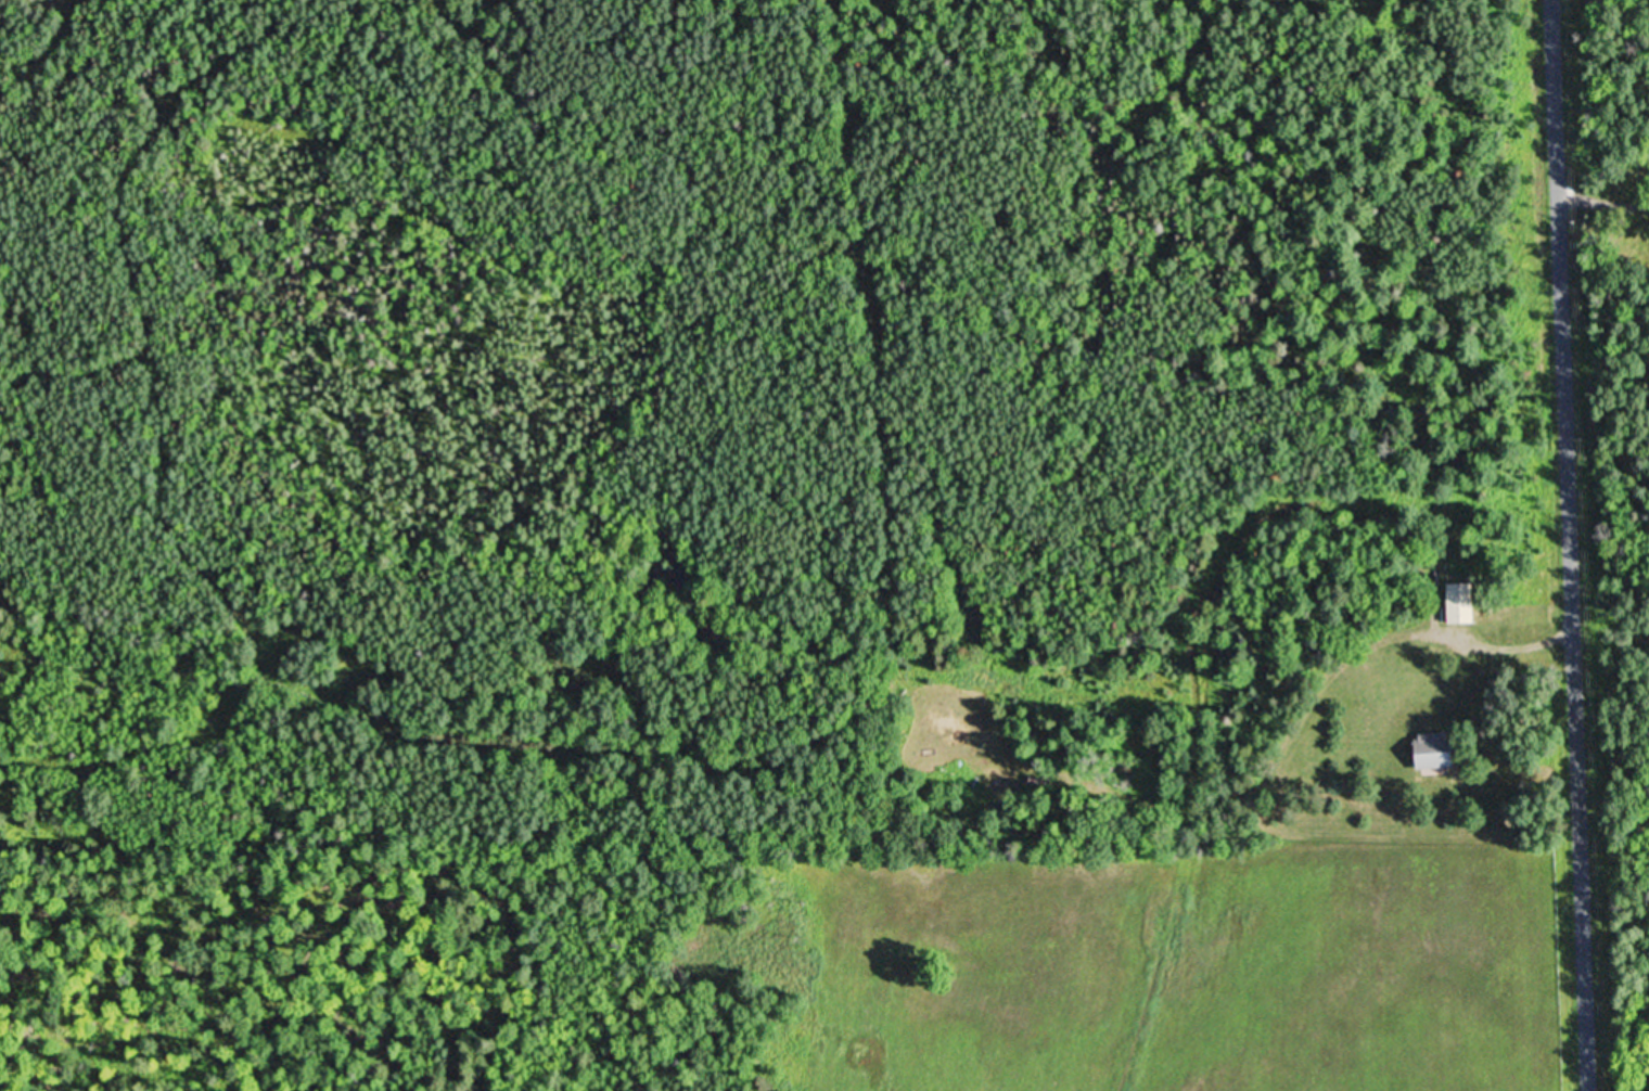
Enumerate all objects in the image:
road: (1603, 204)
road: (1572, 544)
building: (1456, 602)
road: (1505, 649)
building: (1428, 749)

